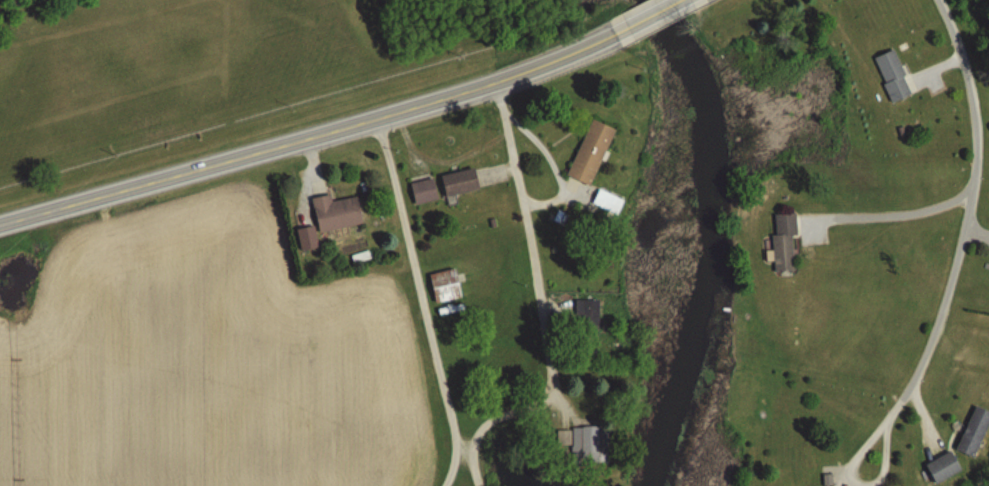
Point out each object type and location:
road: (647, 17)
building: (893, 75)
road: (310, 137)
building: (590, 152)
building: (460, 182)
building: (424, 191)
building: (607, 202)
building: (336, 213)
river: (716, 237)
building: (307, 238)
building: (784, 242)
road: (961, 247)
building: (445, 285)
road: (425, 301)
road: (541, 303)
building: (587, 317)
building: (974, 431)
building: (582, 442)
road: (463, 448)
road: (464, 451)
building: (943, 467)

